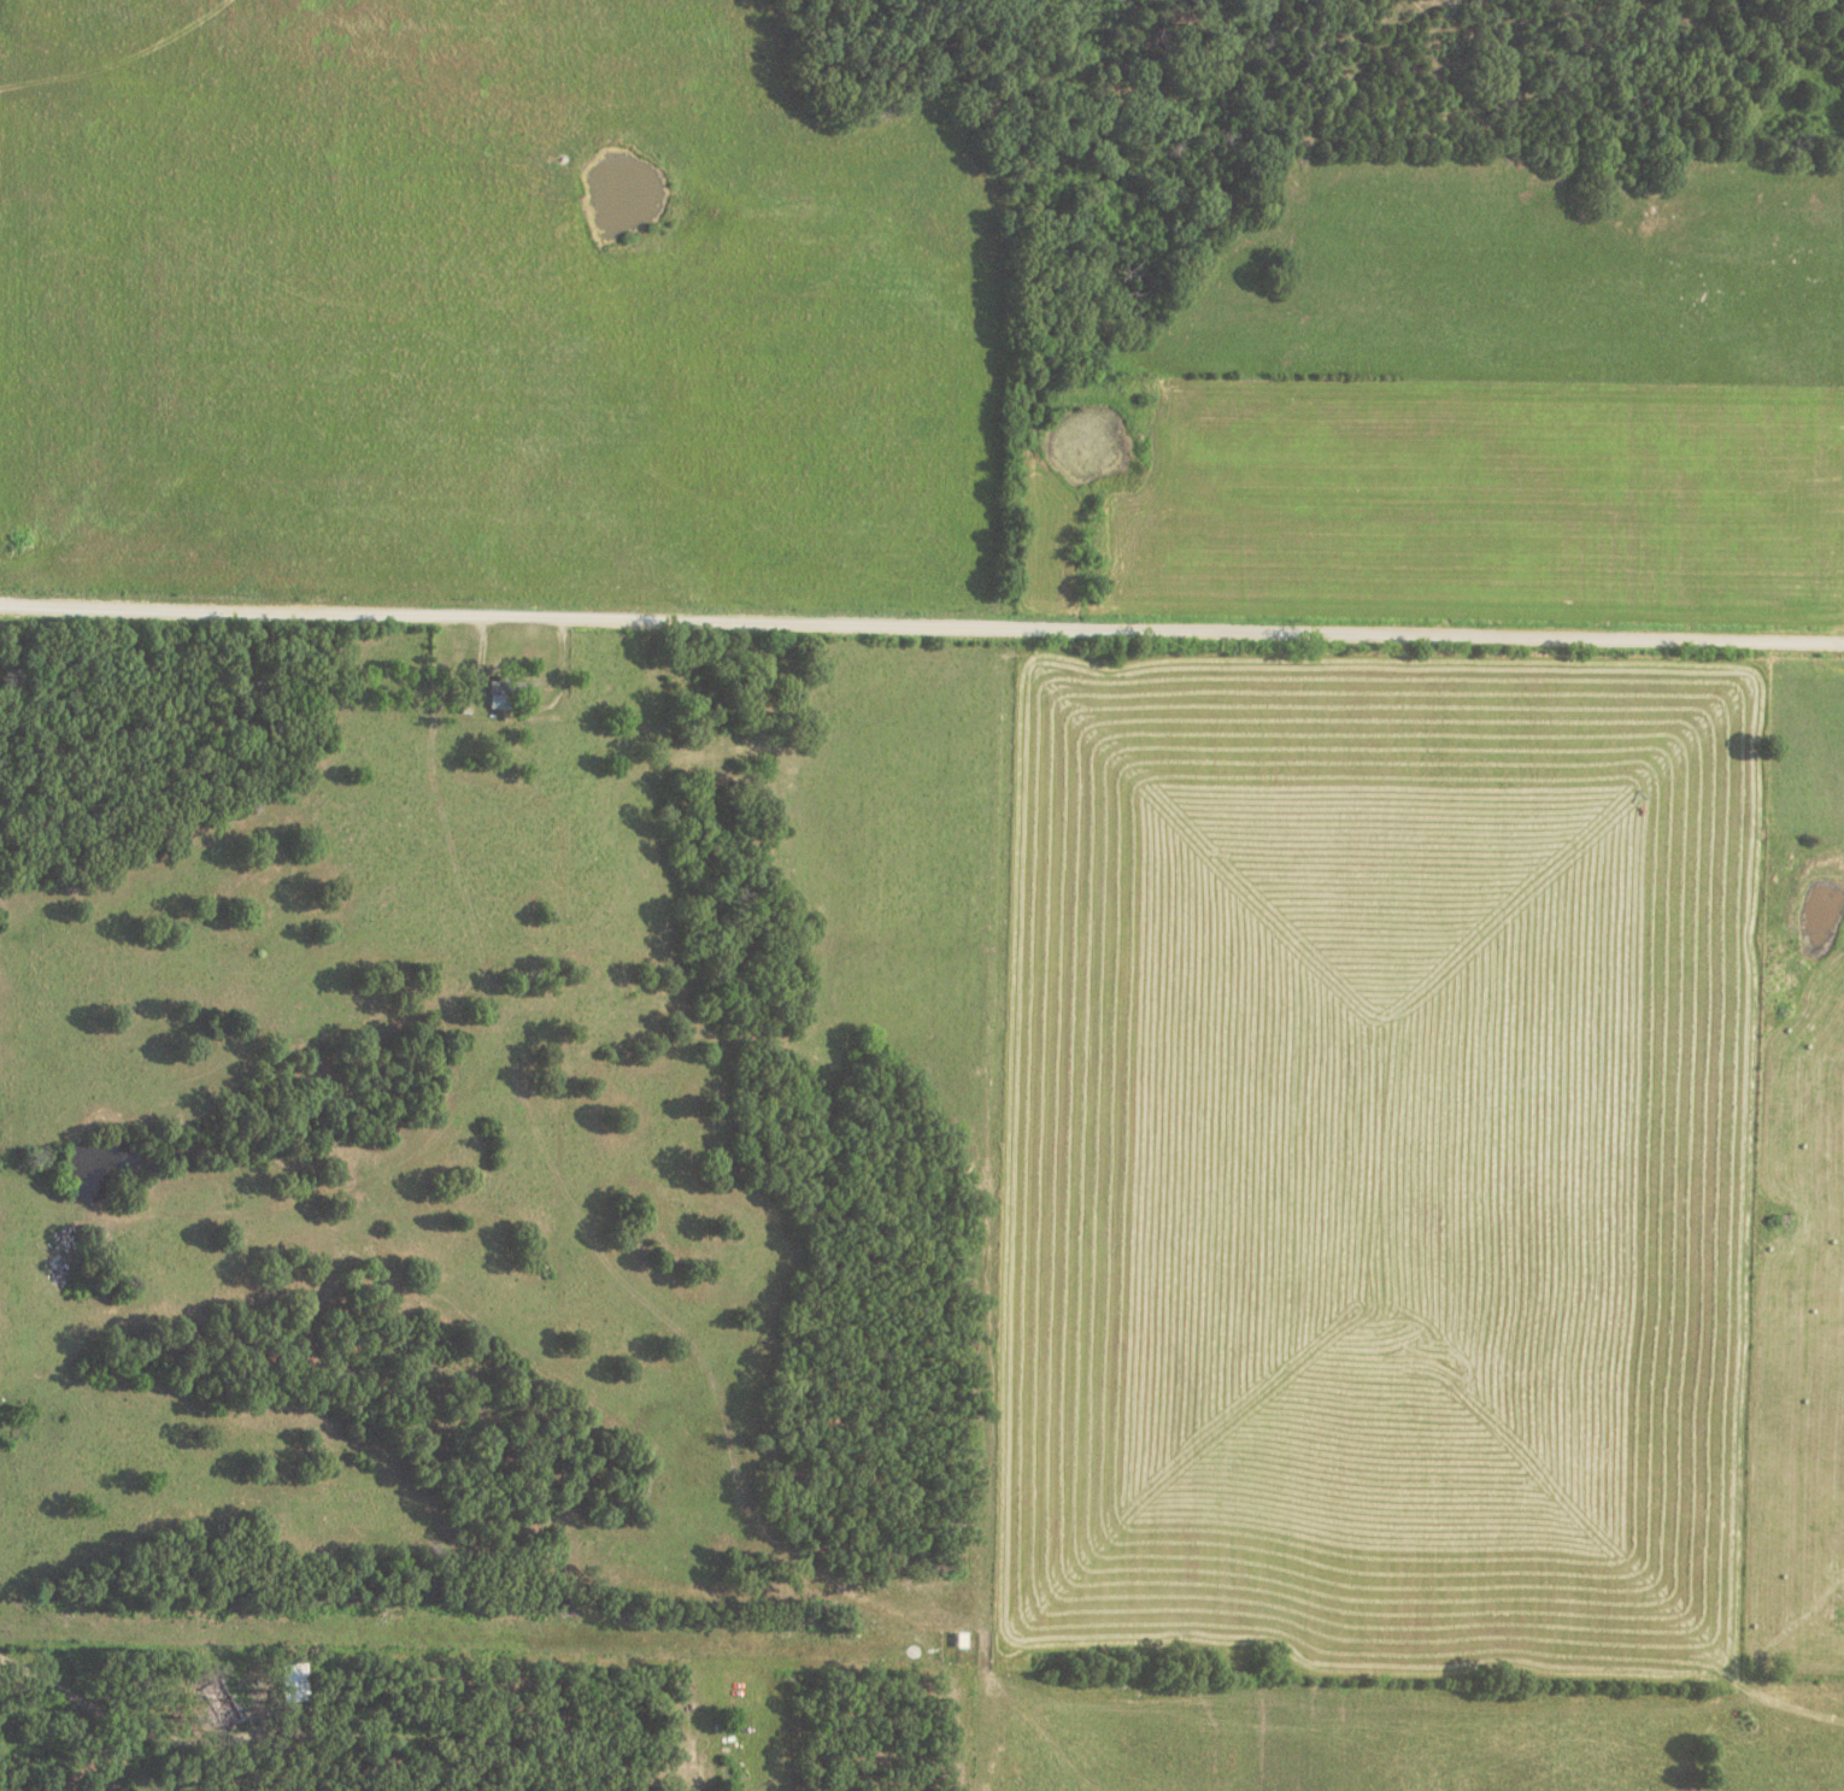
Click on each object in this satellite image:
road: (921, 626)
building: (510, 692)
road: (143, 1649)
building: (290, 1681)

